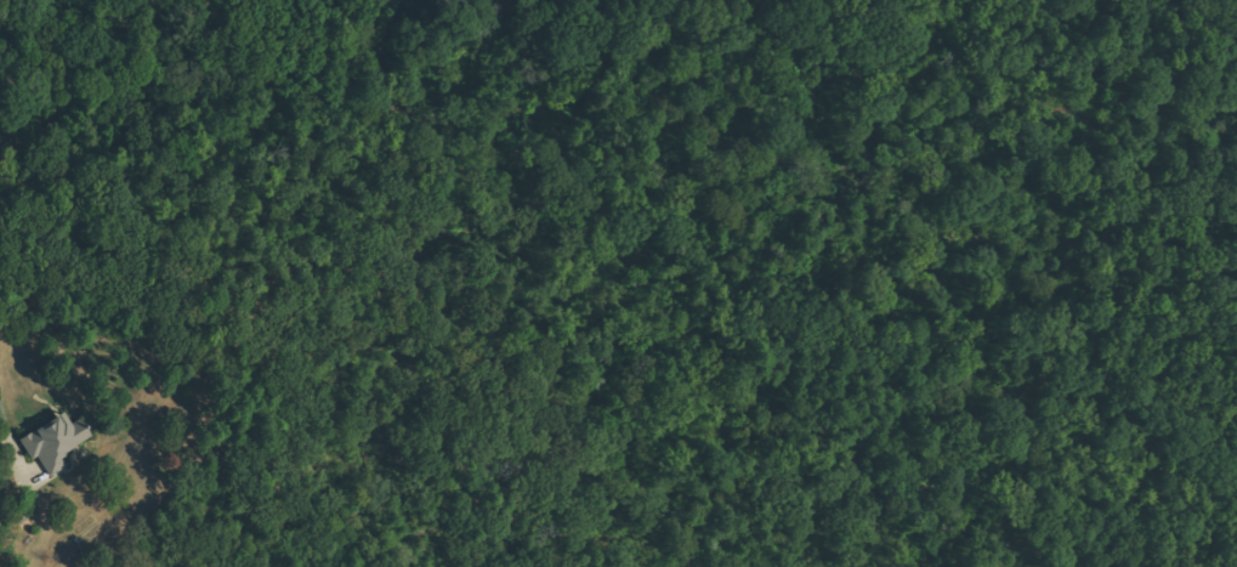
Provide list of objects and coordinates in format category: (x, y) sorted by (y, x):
road: (7, 446)

